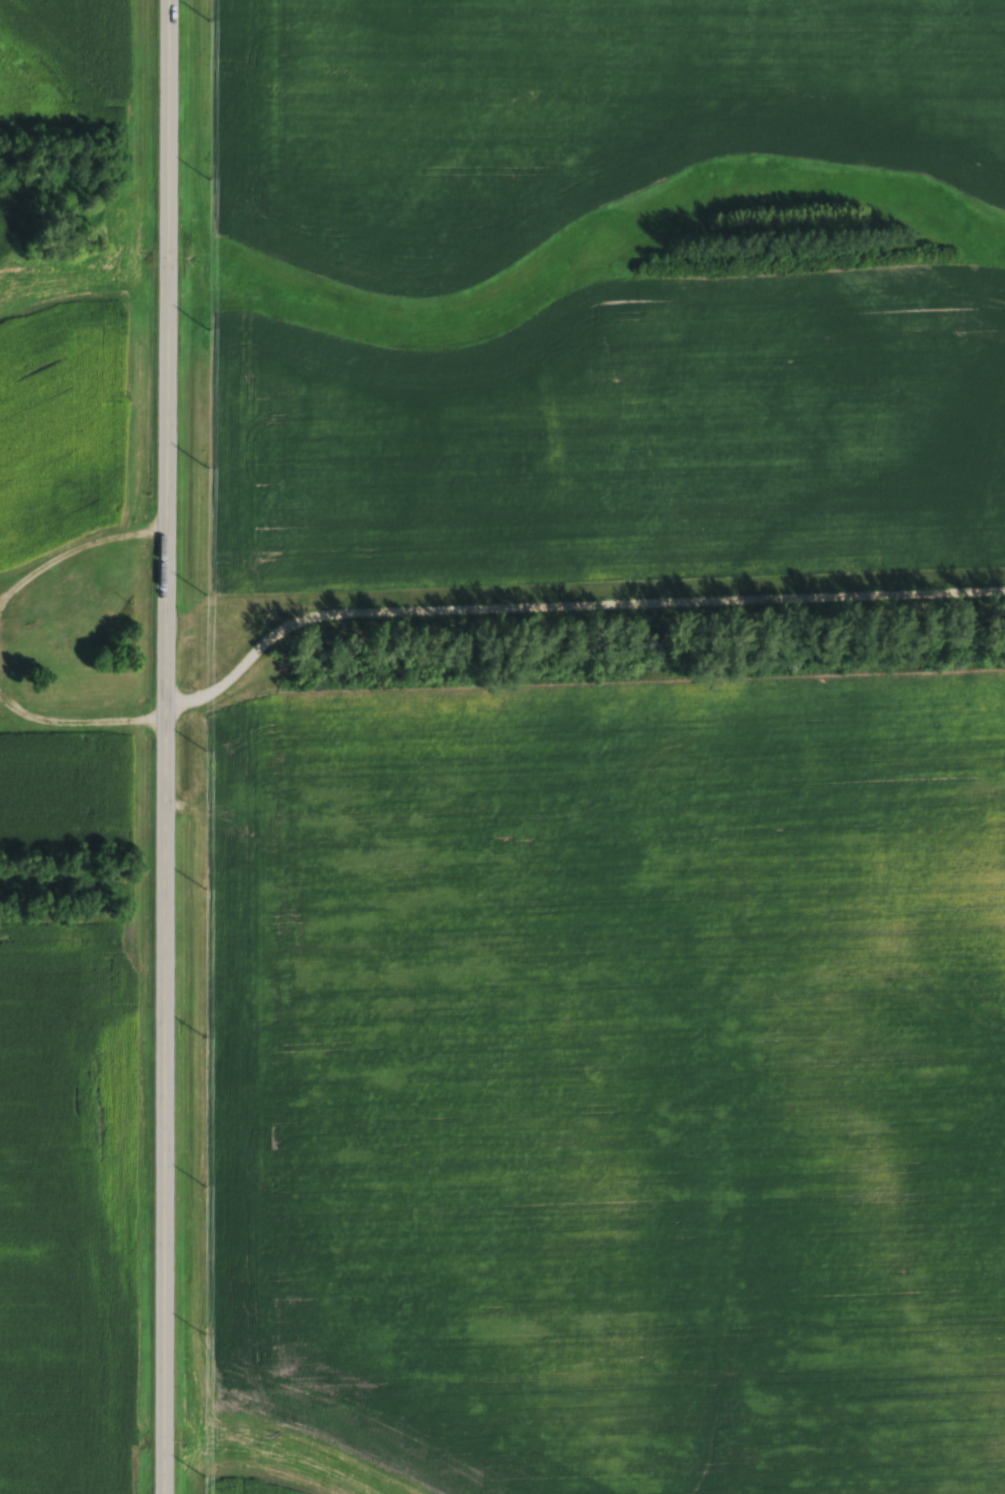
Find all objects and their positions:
road: (574, 603)
road: (1, 647)
road: (173, 746)

